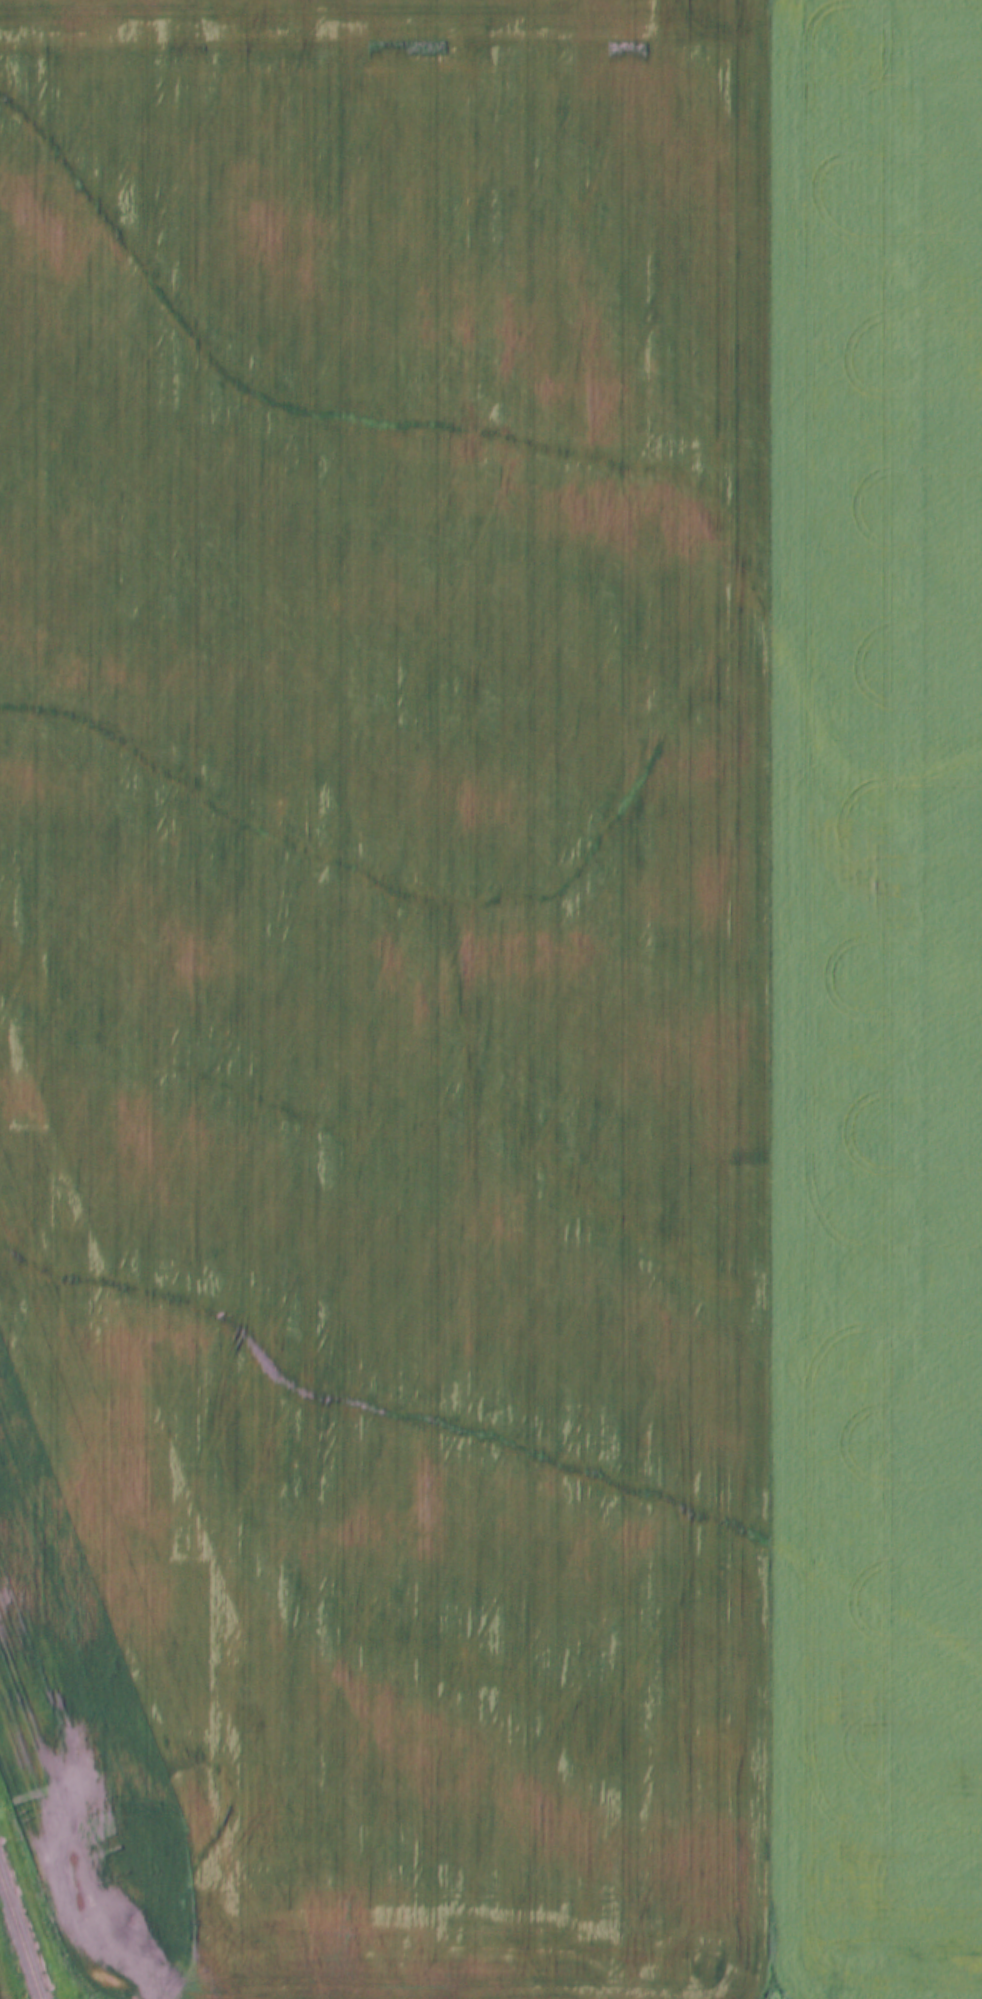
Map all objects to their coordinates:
crop: (387, 978)
railway: (22, 1935)

